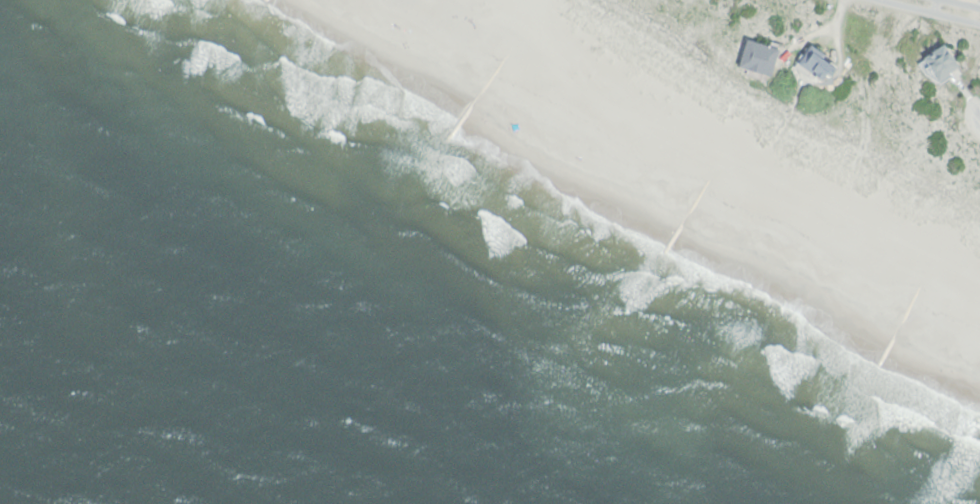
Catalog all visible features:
road: (964, 3)
road: (932, 12)
building: (759, 57)
building: (941, 61)
building: (818, 62)

